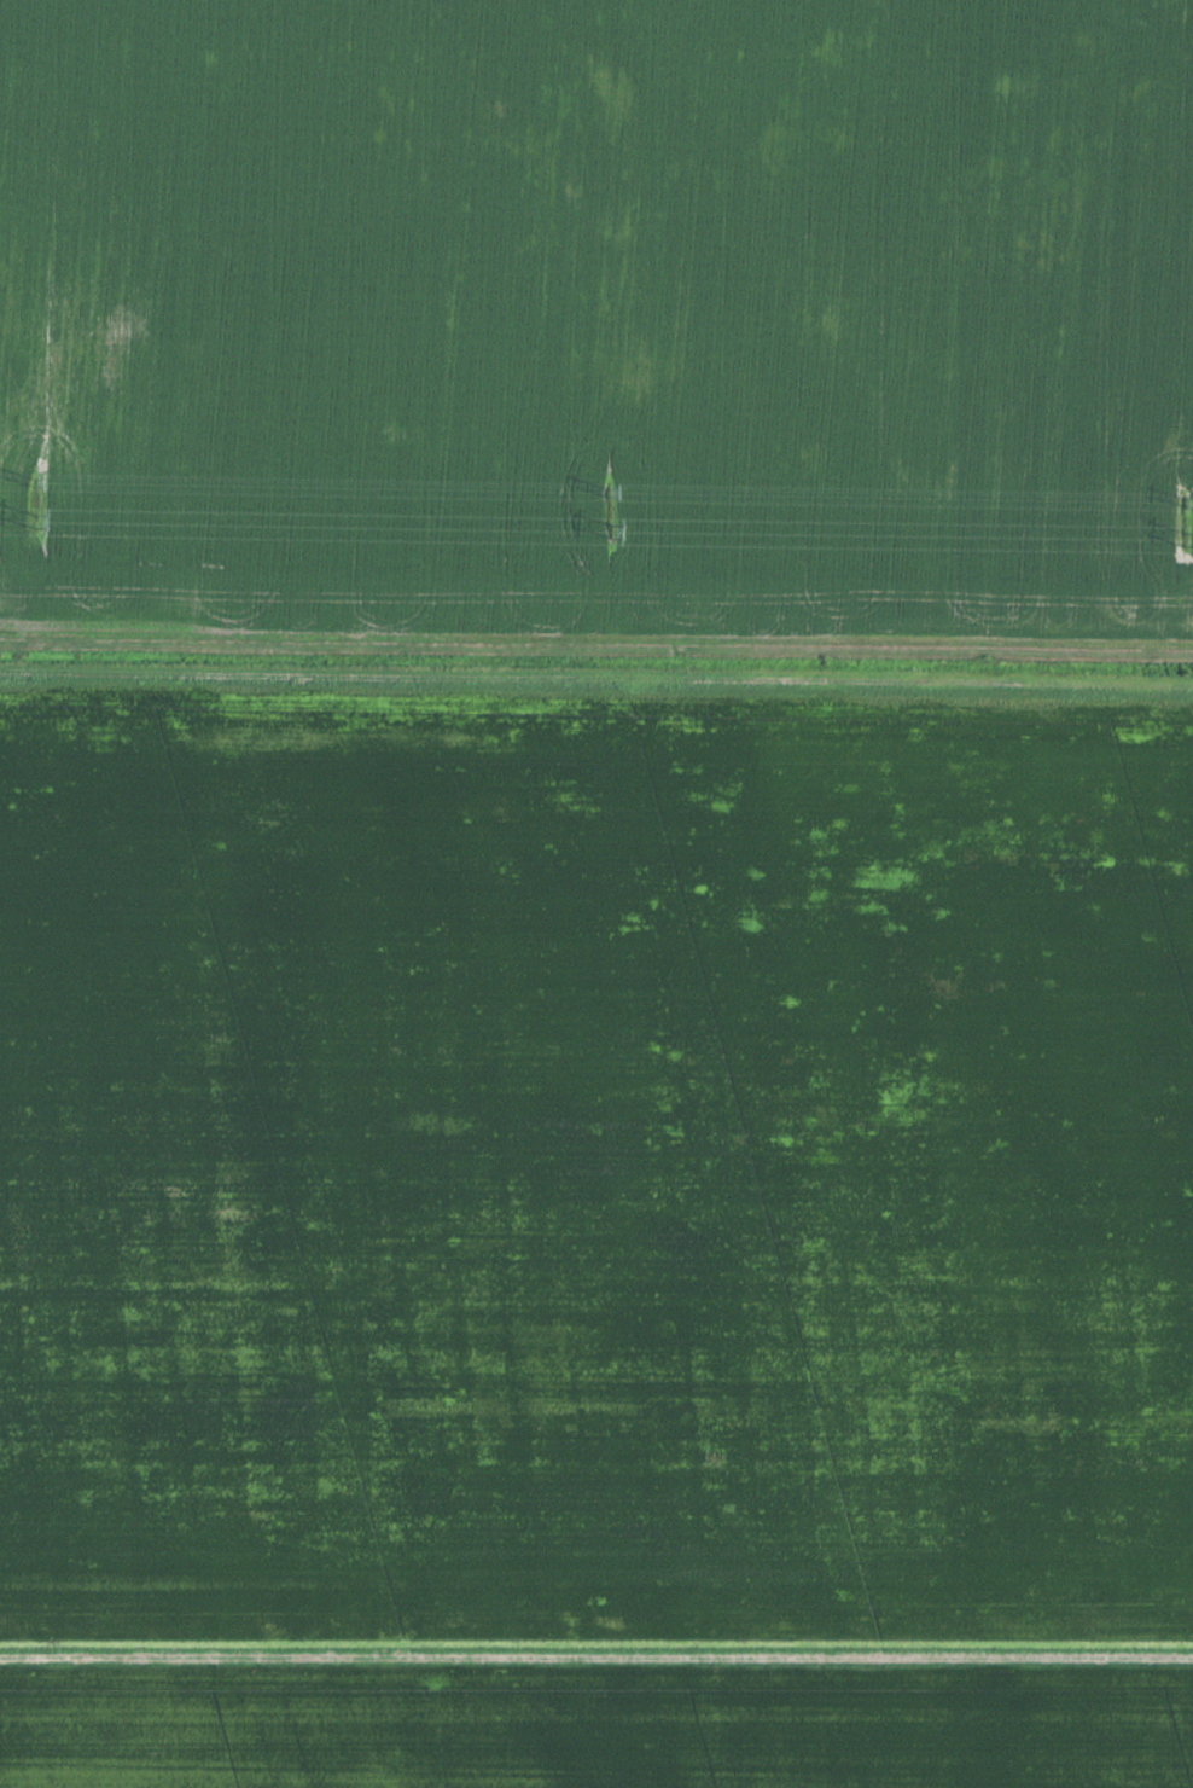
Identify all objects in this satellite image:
road: (596, 672)

